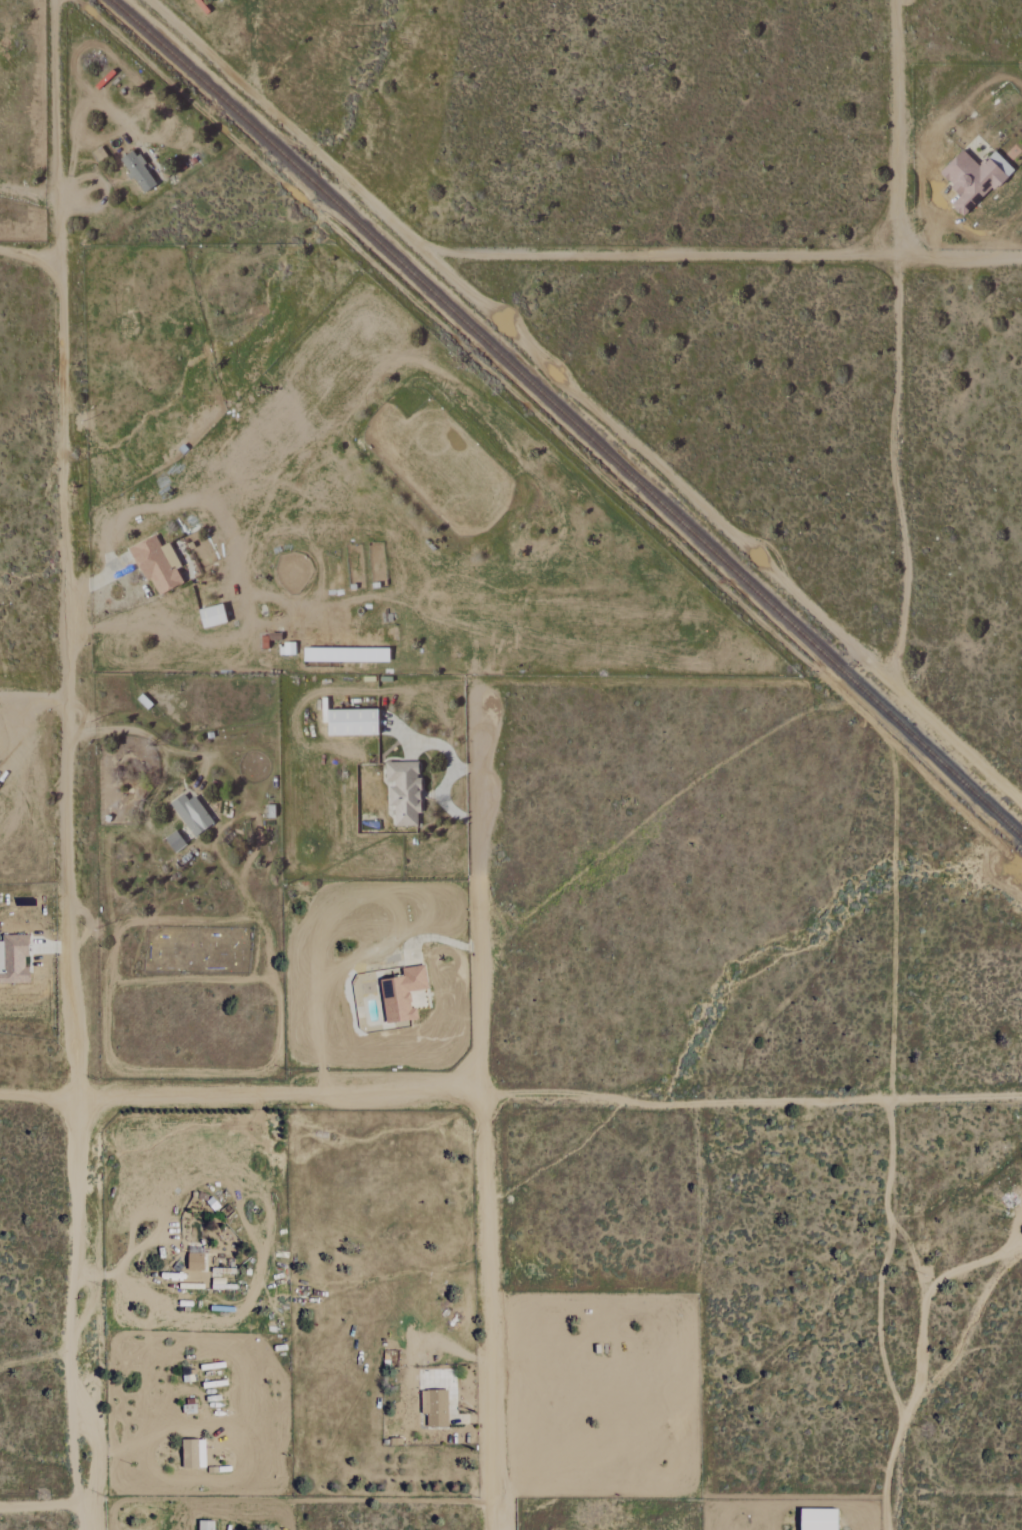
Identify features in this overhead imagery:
road: (288, 125)
building: (137, 172)
building: (974, 179)
road: (30, 192)
road: (31, 254)
road: (960, 257)
road: (897, 342)
road: (549, 368)
railway: (568, 415)
building: (157, 564)
building: (212, 617)
building: (287, 649)
building: (345, 656)
road: (33, 696)
building: (352, 722)
road: (119, 730)
road: (66, 765)
building: (403, 791)
building: (191, 814)
building: (174, 841)
road: (894, 923)
building: (13, 960)
building: (402, 994)
road: (511, 1096)
road: (484, 1103)
building: (195, 1262)
road: (971, 1265)
road: (880, 1315)
road: (923, 1317)
building: (435, 1407)
road: (108, 1451)
building: (193, 1454)
road: (41, 1506)
building: (818, 1519)
building: (206, 1525)

